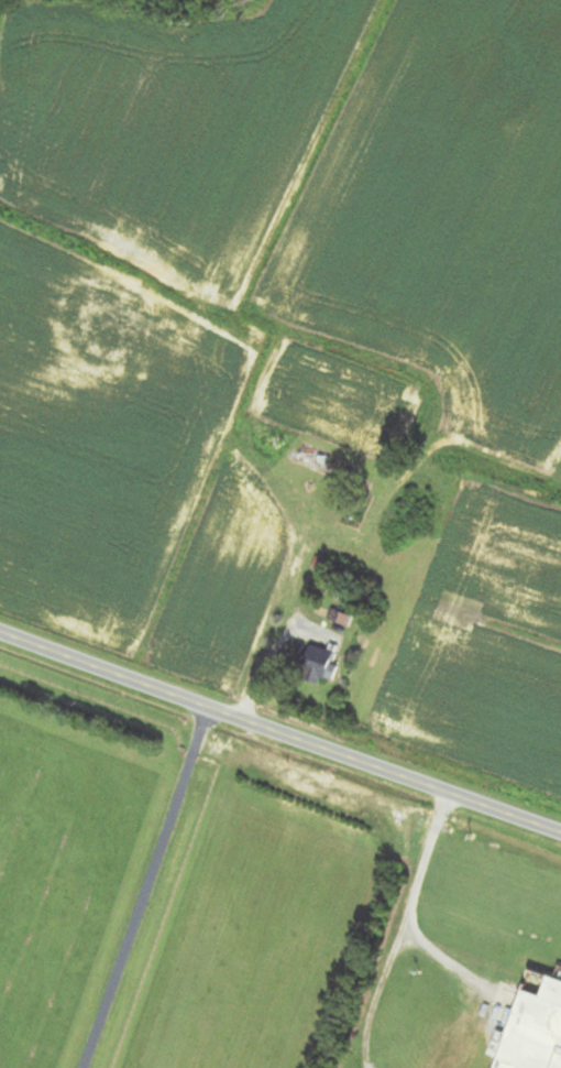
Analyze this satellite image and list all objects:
building: (318, 460)
building: (324, 664)
road: (279, 730)
road: (406, 902)
building: (535, 1029)

